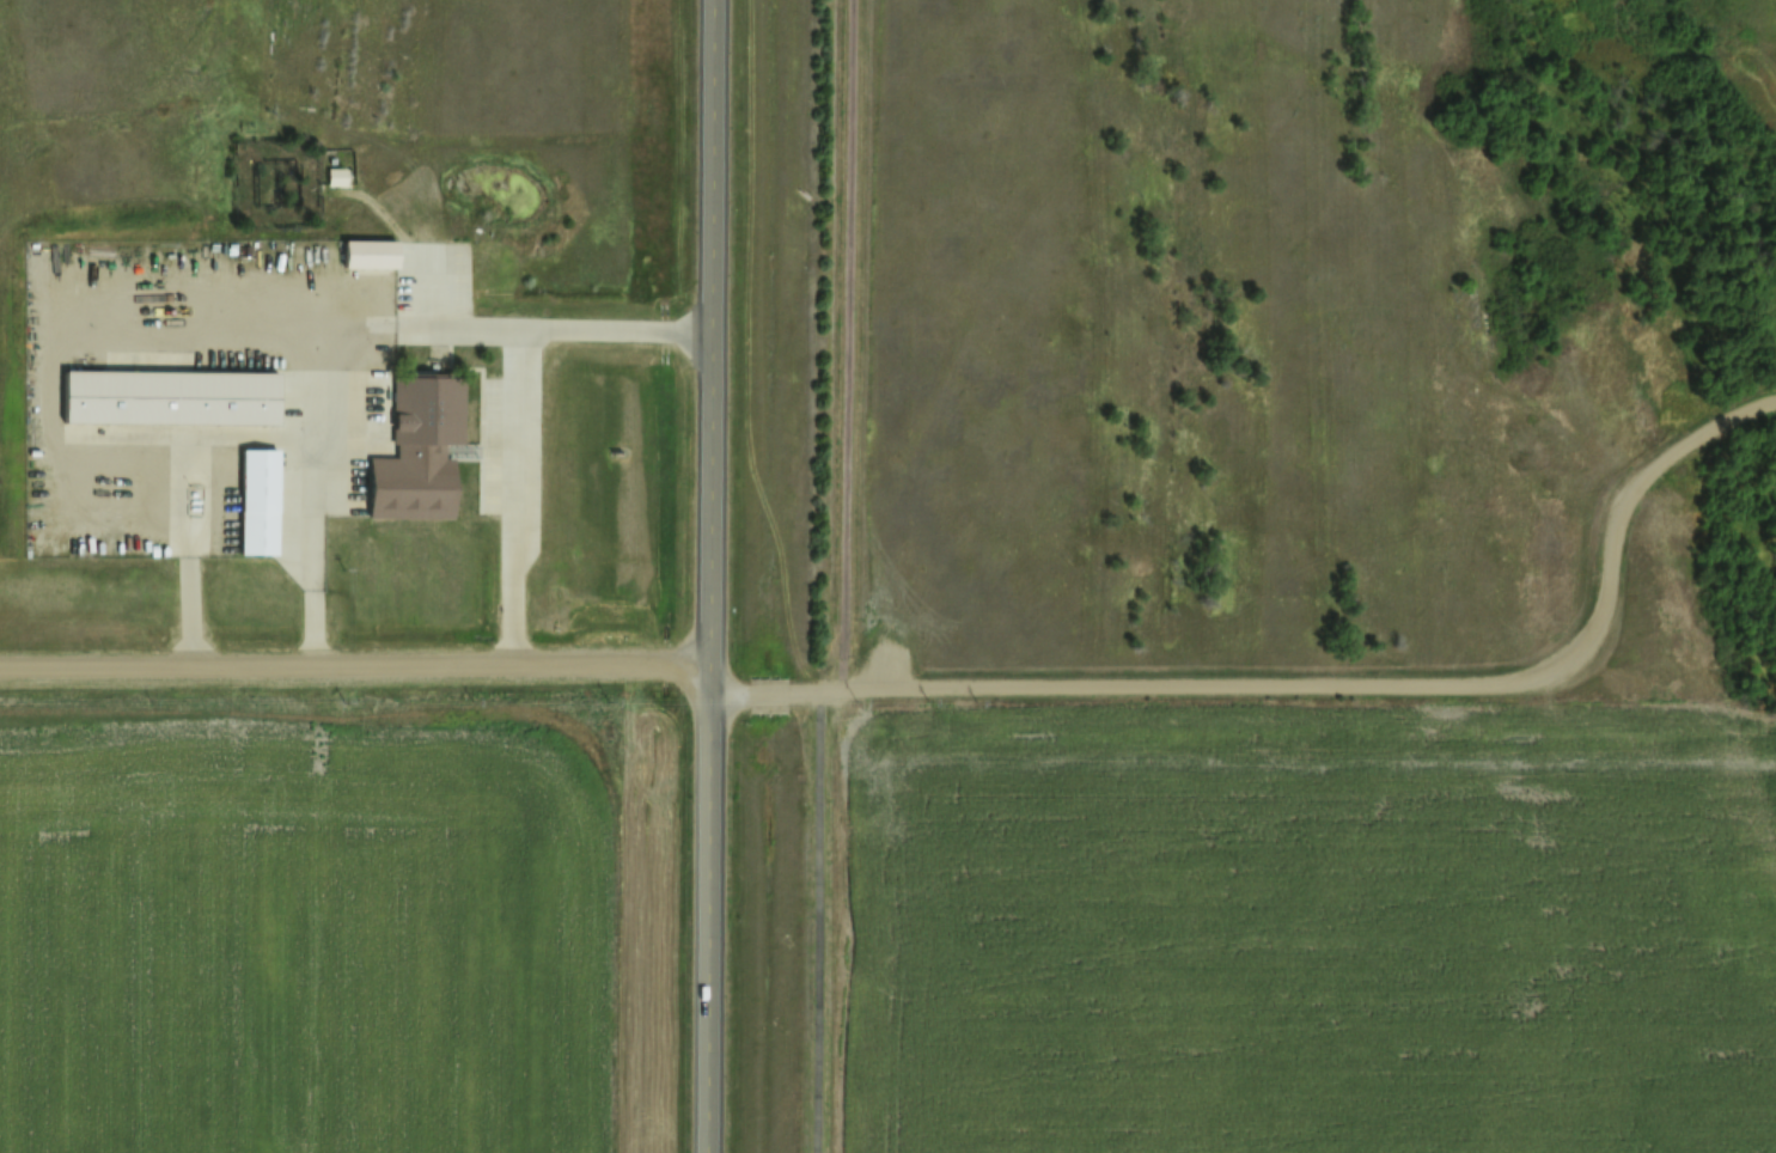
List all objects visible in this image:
building: (338, 177)
building: (366, 239)
building: (373, 255)
building: (421, 450)
building: (257, 486)
road: (708, 576)
road: (844, 579)
road: (354, 663)
road: (1323, 684)
crop: (304, 925)

